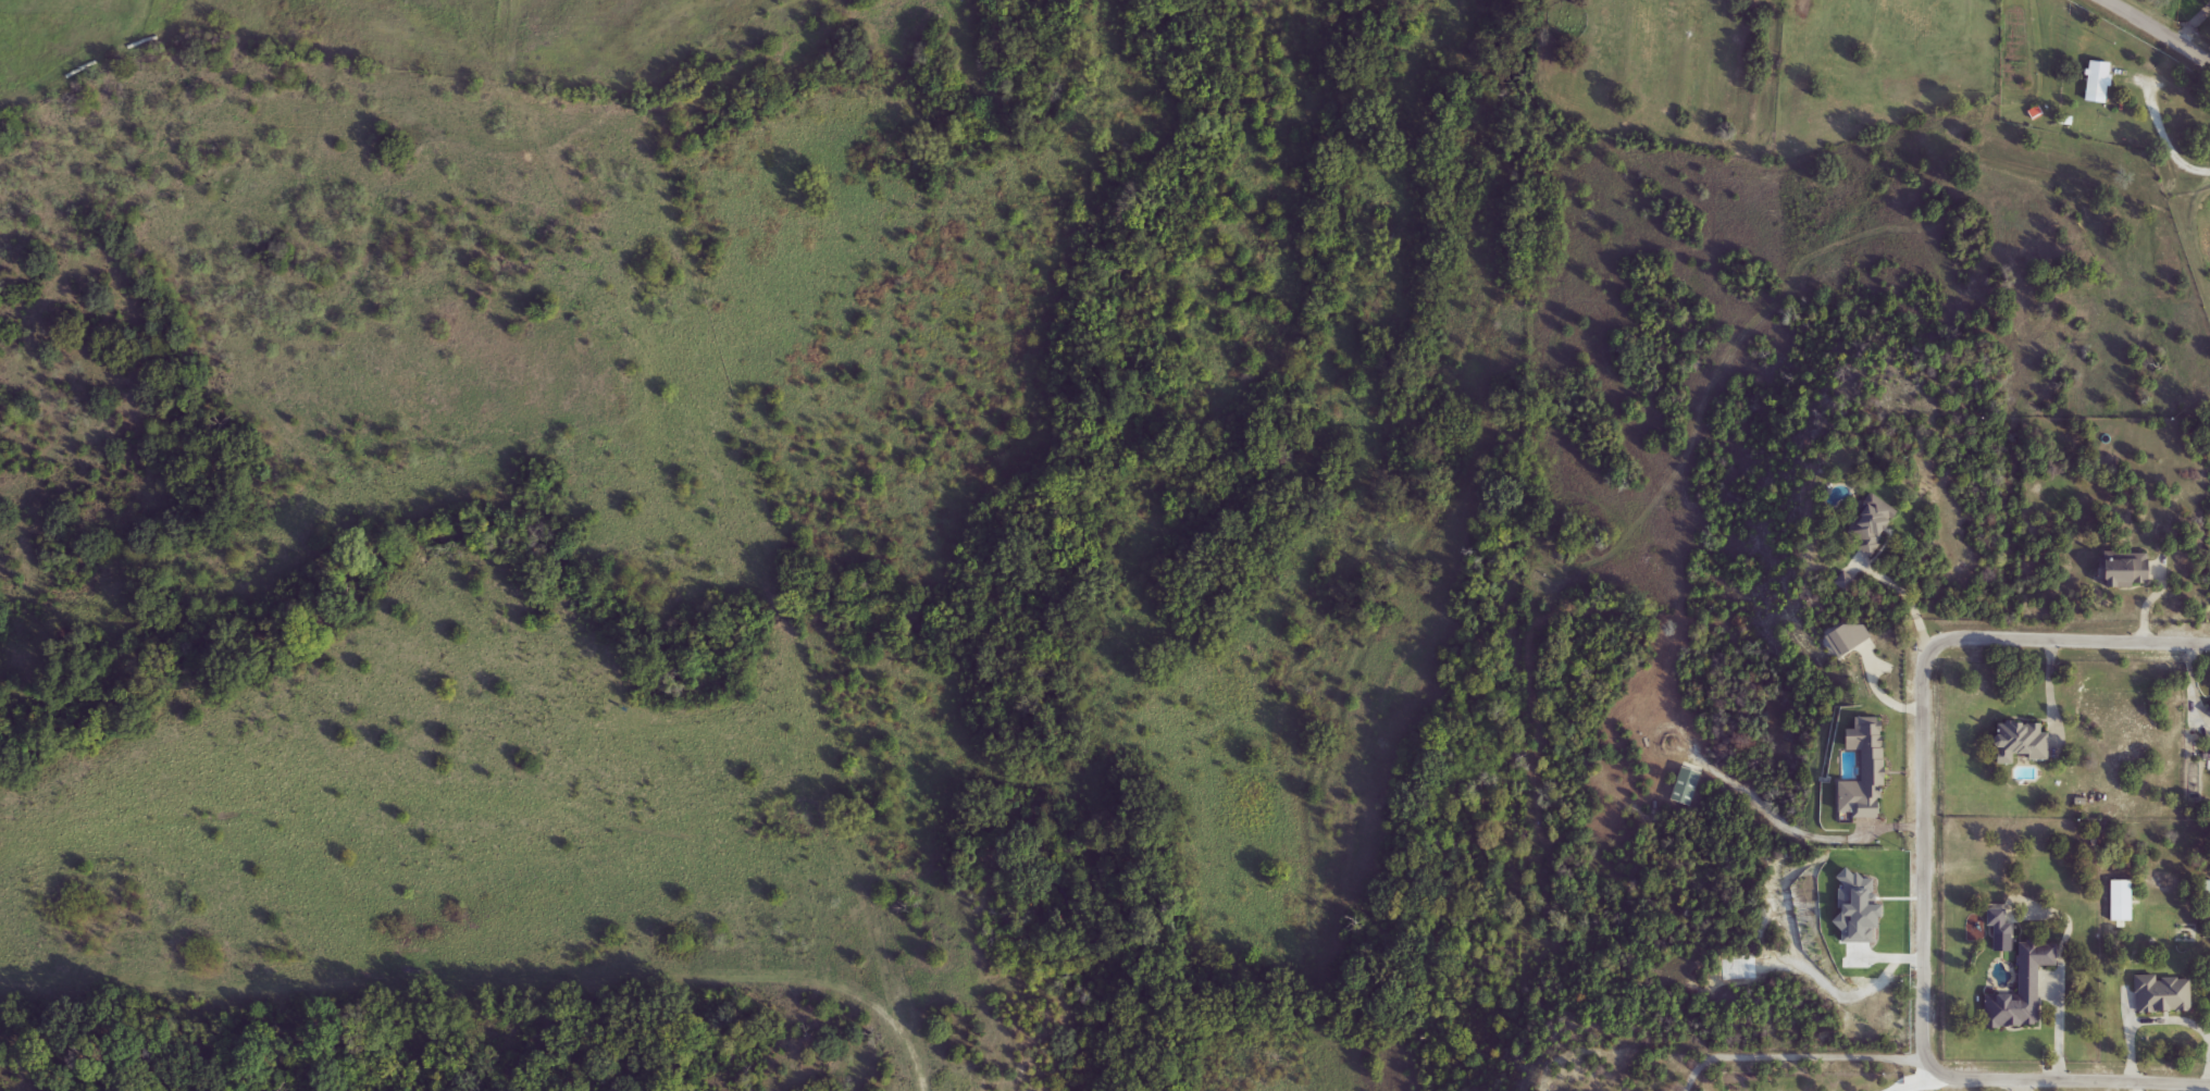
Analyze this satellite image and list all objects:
road: (2158, 33)
building: (2098, 83)
road: (2165, 138)
building: (1875, 528)
building: (2130, 571)
road: (1903, 592)
building: (2024, 742)
road: (1865, 828)
road: (1921, 847)
building: (2001, 925)
building: (2024, 990)
building: (2165, 994)
road: (2059, 1030)
road: (899, 1031)
road: (1802, 1056)

